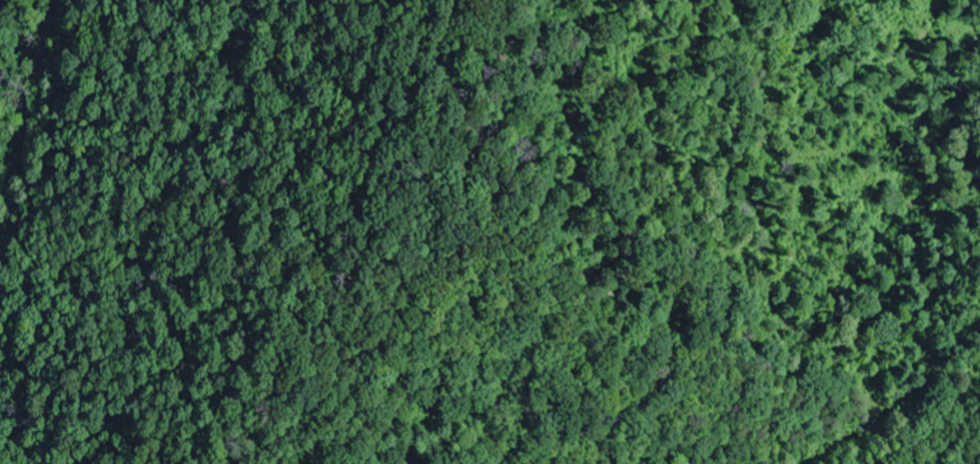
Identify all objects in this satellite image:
road: (28, 111)

